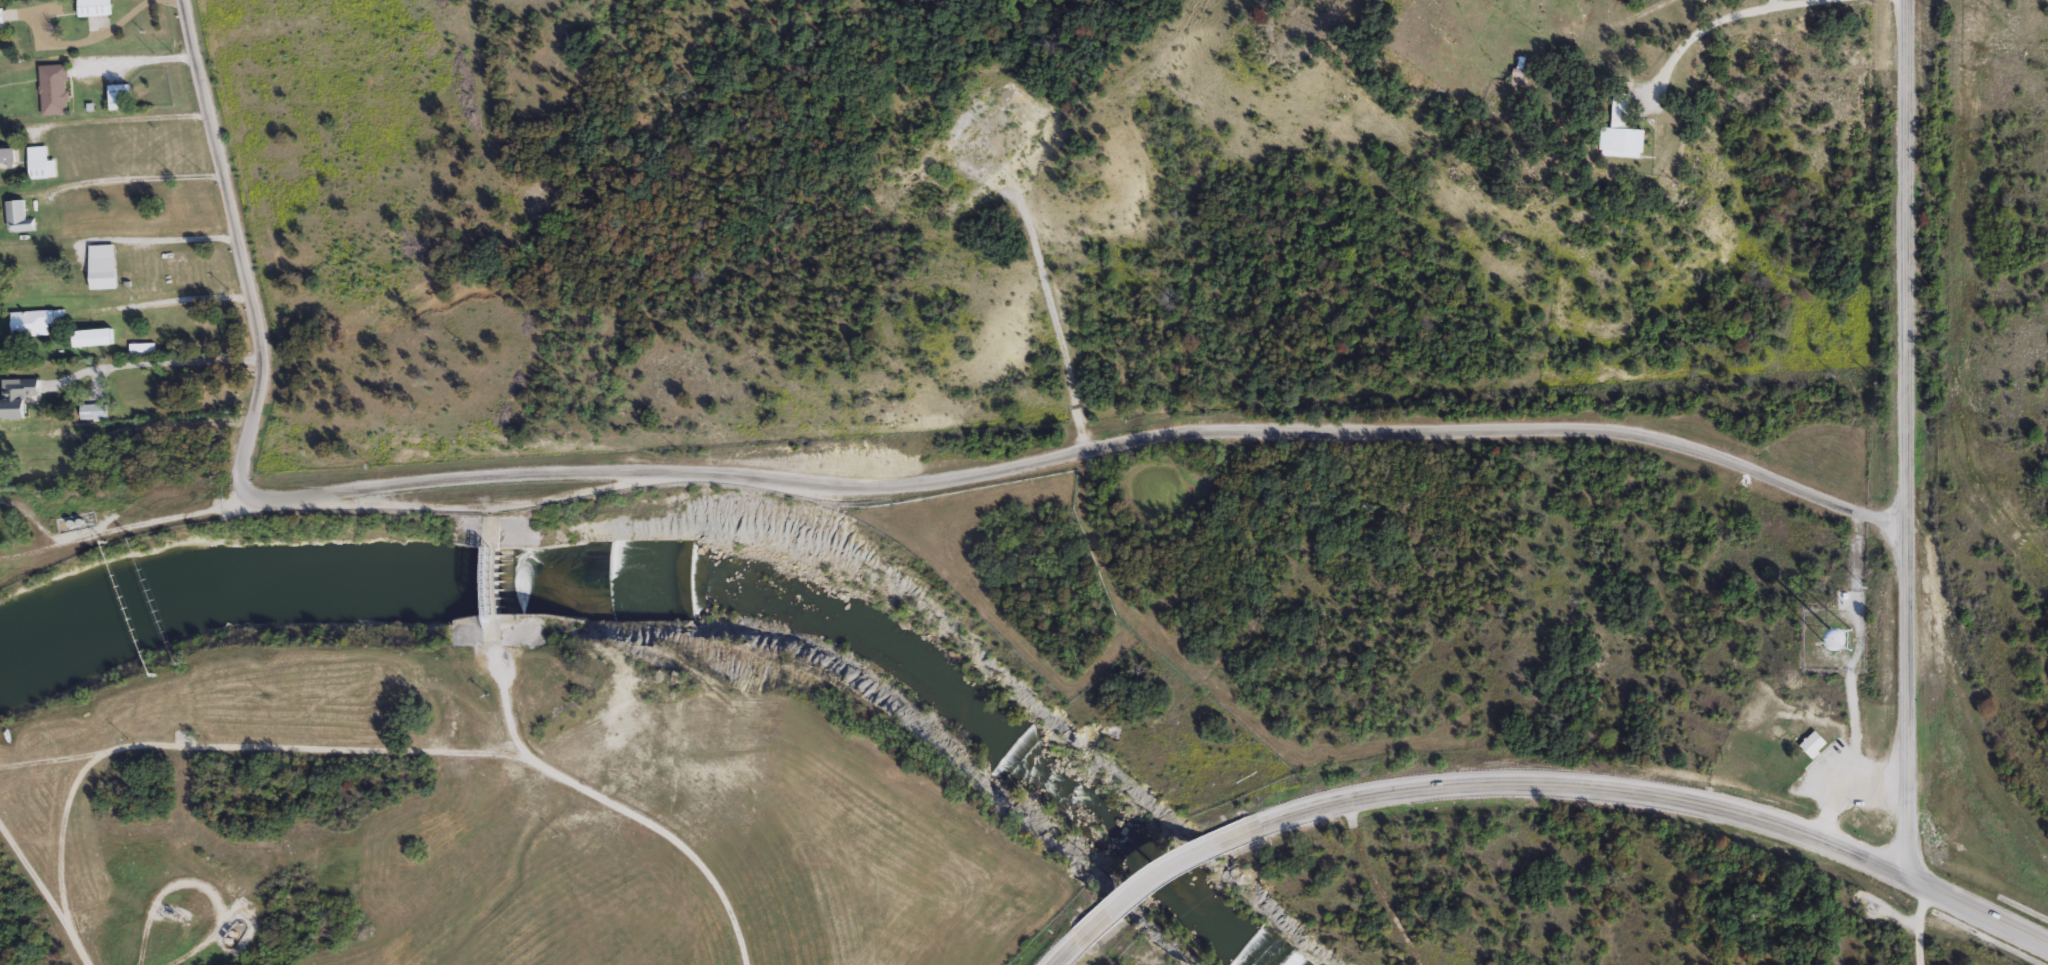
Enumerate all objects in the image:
road: (1773, 3)
building: (95, 8)
building: (3, 14)
road: (1721, 17)
road: (89, 37)
building: (1518, 67)
building: (53, 89)
building: (120, 97)
building: (1619, 111)
road: (114, 121)
building: (1620, 139)
building: (7, 156)
building: (39, 163)
building: (18, 216)
road: (166, 240)
road: (236, 253)
building: (102, 274)
building: (34, 321)
building: (94, 337)
building: (141, 349)
road: (157, 364)
building: (18, 396)
building: (93, 410)
road: (1903, 440)
road: (1086, 448)
road: (32, 520)
road: (161, 520)
road: (31, 550)
building: (497, 601)
road: (502, 703)
building: (1812, 743)
road: (421, 756)
road: (1662, 796)
road: (63, 852)
road: (1163, 874)
road: (31, 878)
road: (1372, 885)
road: (1915, 921)
road: (1067, 949)

